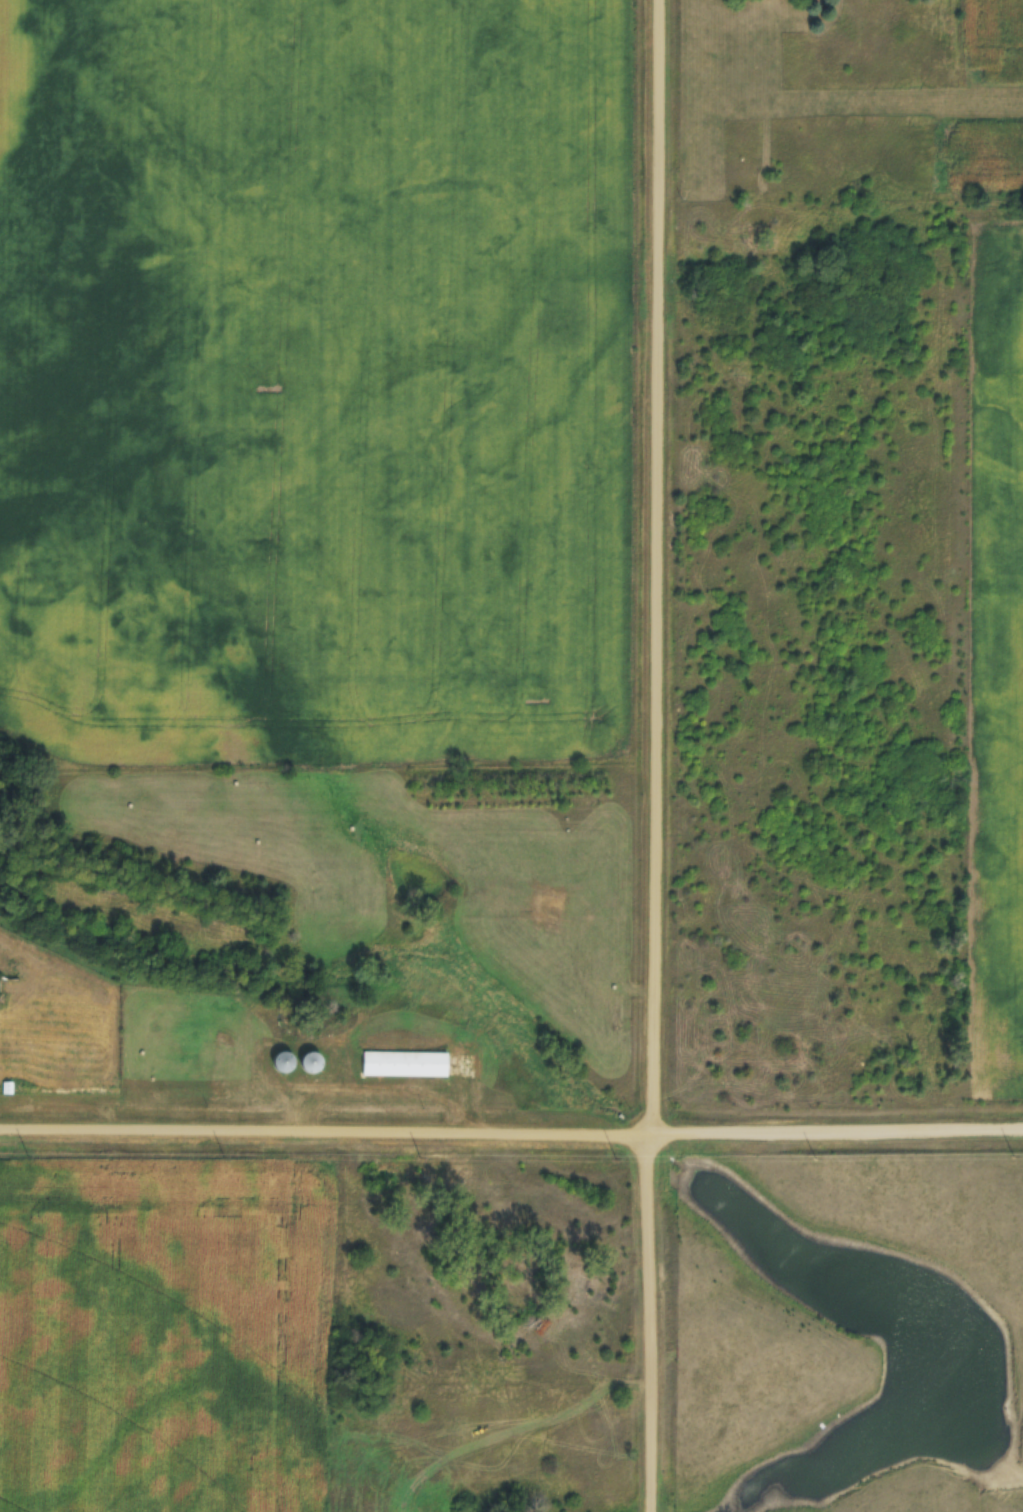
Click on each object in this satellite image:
airport runway: (852, 103)
airport: (868, 112)
road: (654, 756)
building: (285, 1062)
building: (314, 1063)
building: (408, 1063)
road: (511, 1131)

